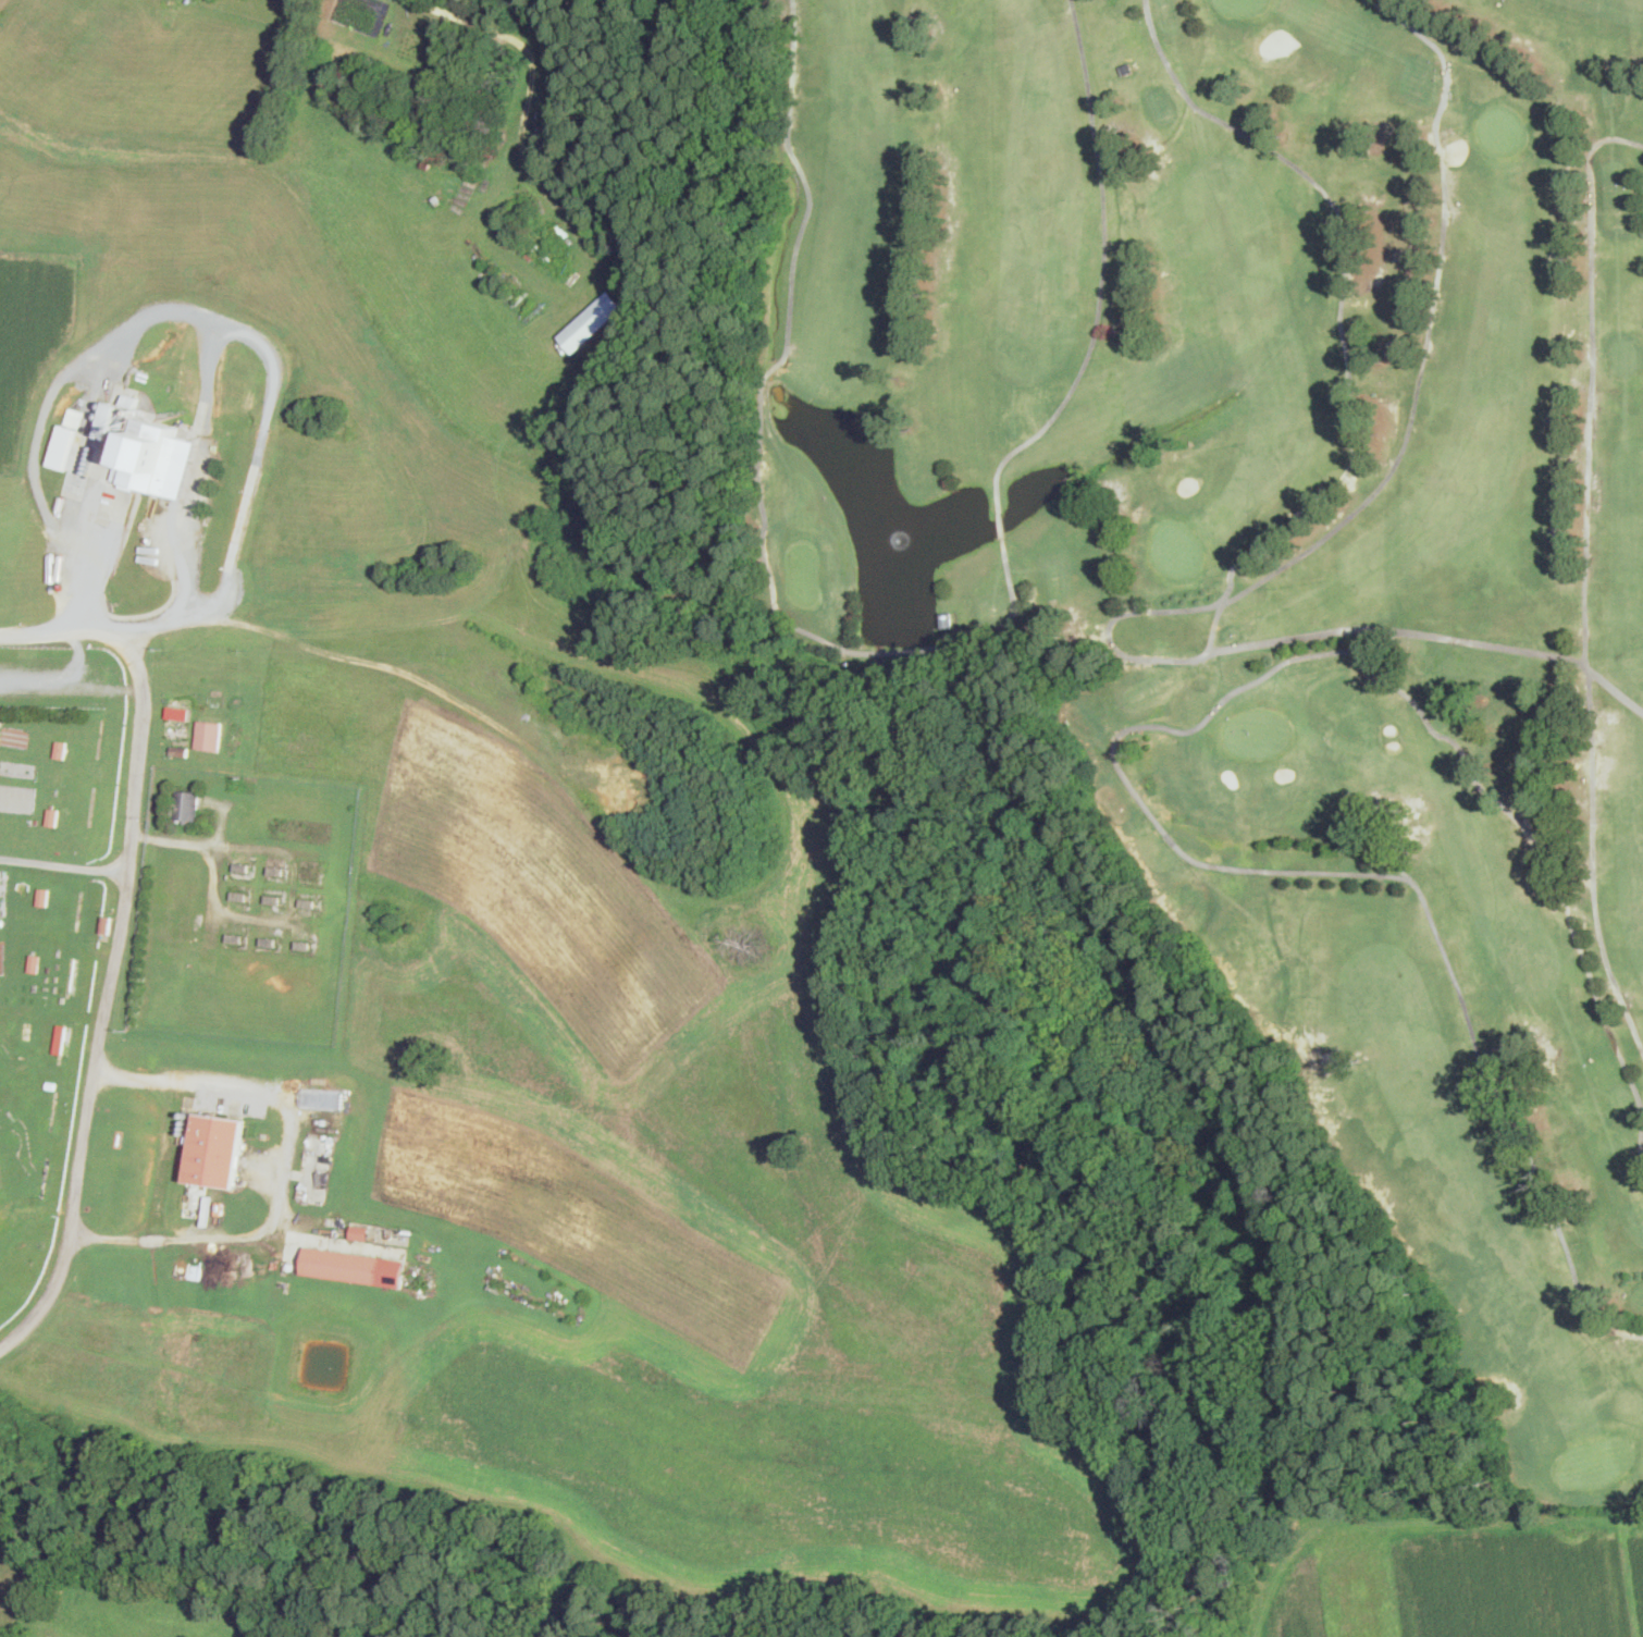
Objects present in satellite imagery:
building: (540, 26)
building: (1126, 71)
road: (527, 107)
road: (186, 309)
building: (591, 321)
building: (132, 401)
building: (73, 418)
building: (110, 421)
building: (64, 445)
building: (156, 460)
road: (198, 494)
park: (1286, 593)
building: (946, 620)
building: (180, 712)
building: (209, 734)
building: (62, 750)
building: (180, 751)
building: (186, 807)
building: (53, 817)
road: (64, 864)
building: (243, 867)
building: (276, 871)
building: (238, 896)
building: (44, 898)
building: (273, 900)
building: (308, 903)
building: (106, 926)
crop: (573, 937)
building: (235, 938)
road: (119, 943)
building: (269, 943)
building: (304, 946)
building: (36, 964)
building: (207, 967)
building: (26, 1027)
building: (61, 1037)
building: (51, 1084)
building: (215, 1152)
road: (287, 1167)
building: (360, 1230)
building: (353, 1266)

